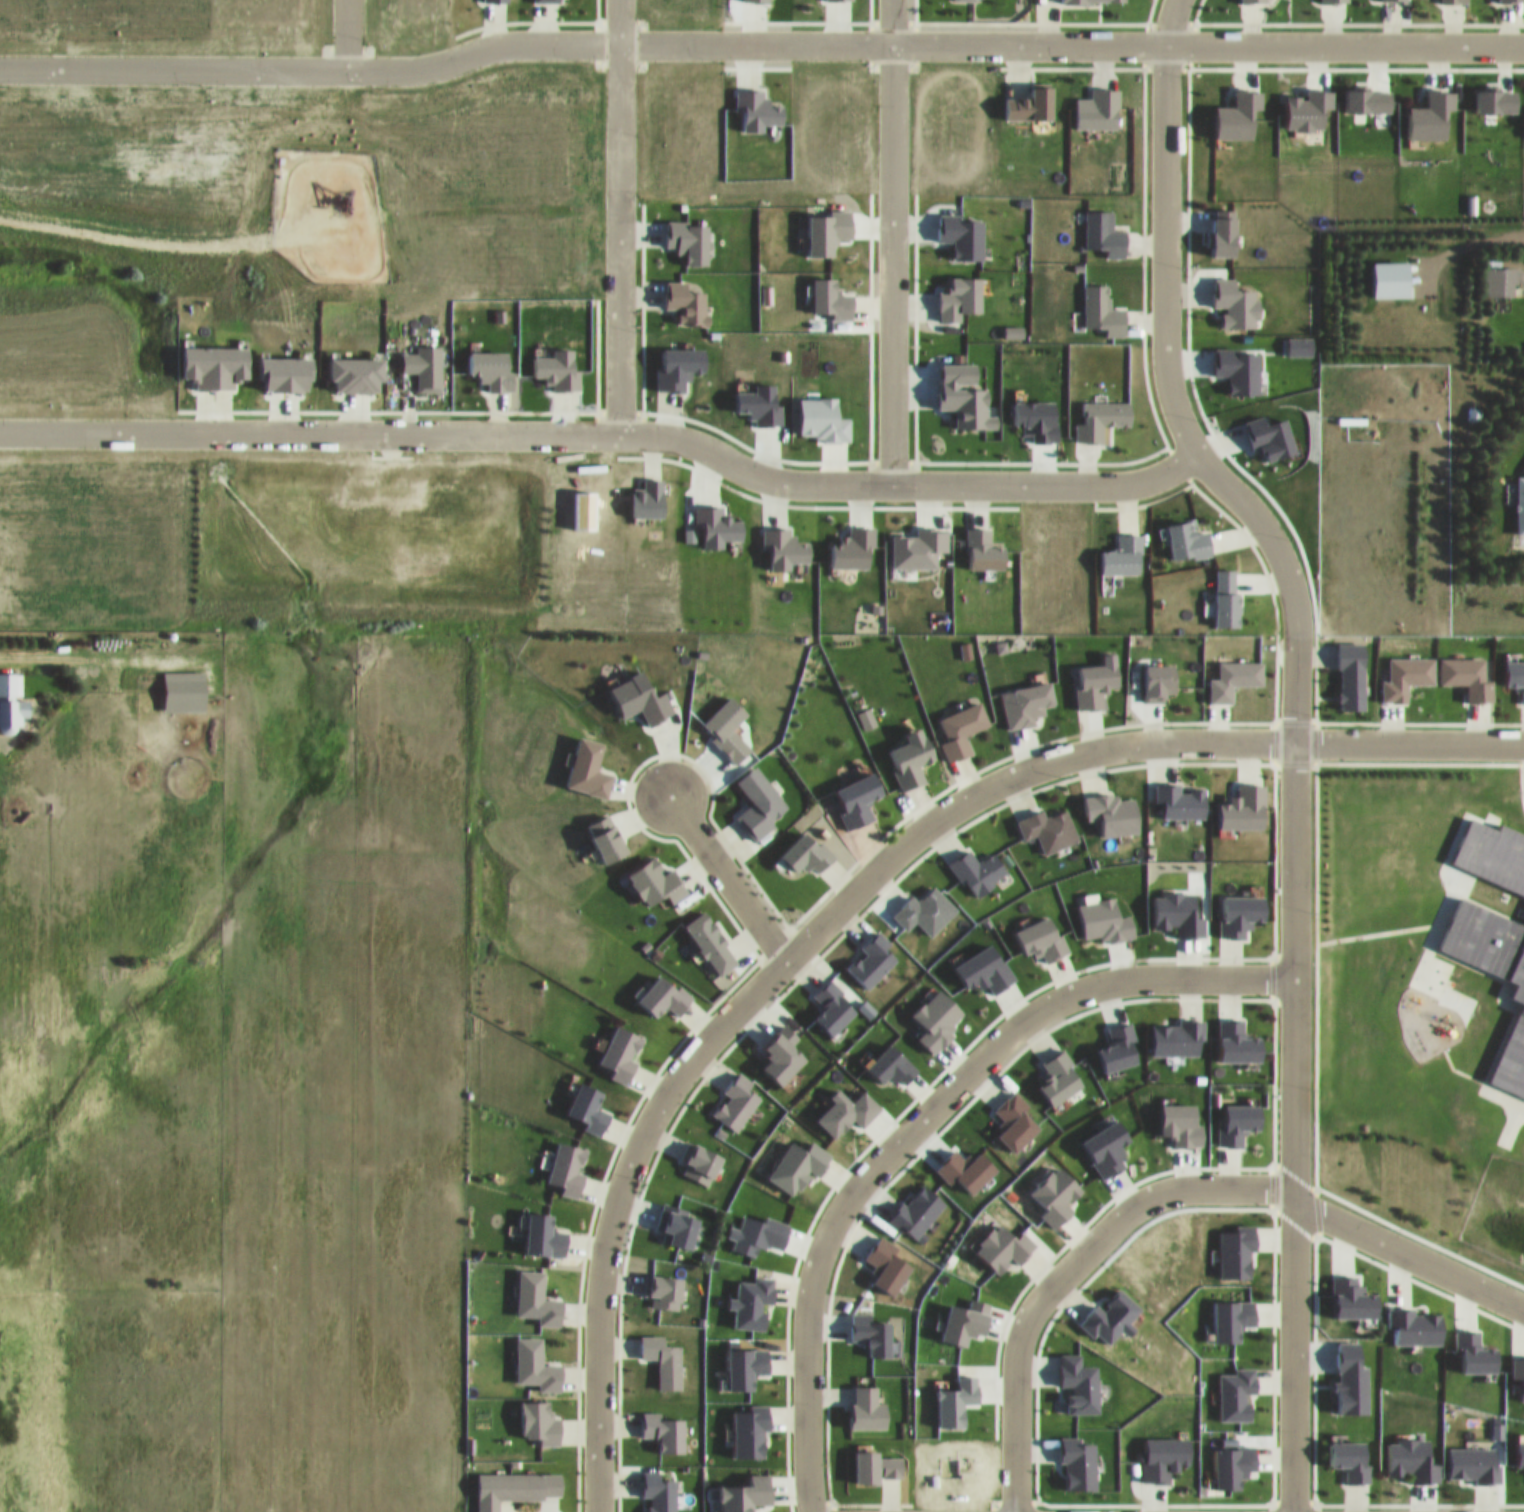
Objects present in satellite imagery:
road: (344, 37)
road: (759, 44)
road: (619, 217)
road: (892, 240)
road: (155, 241)
building: (1503, 271)
road: (605, 436)
building: (1521, 494)
road: (1291, 579)
building: (185, 681)
building: (12, 692)
building: (1491, 845)
road: (725, 869)
road: (852, 883)
building: (1514, 986)
road: (916, 1122)
road: (1409, 1253)
road: (1069, 1269)
road: (1295, 1355)

